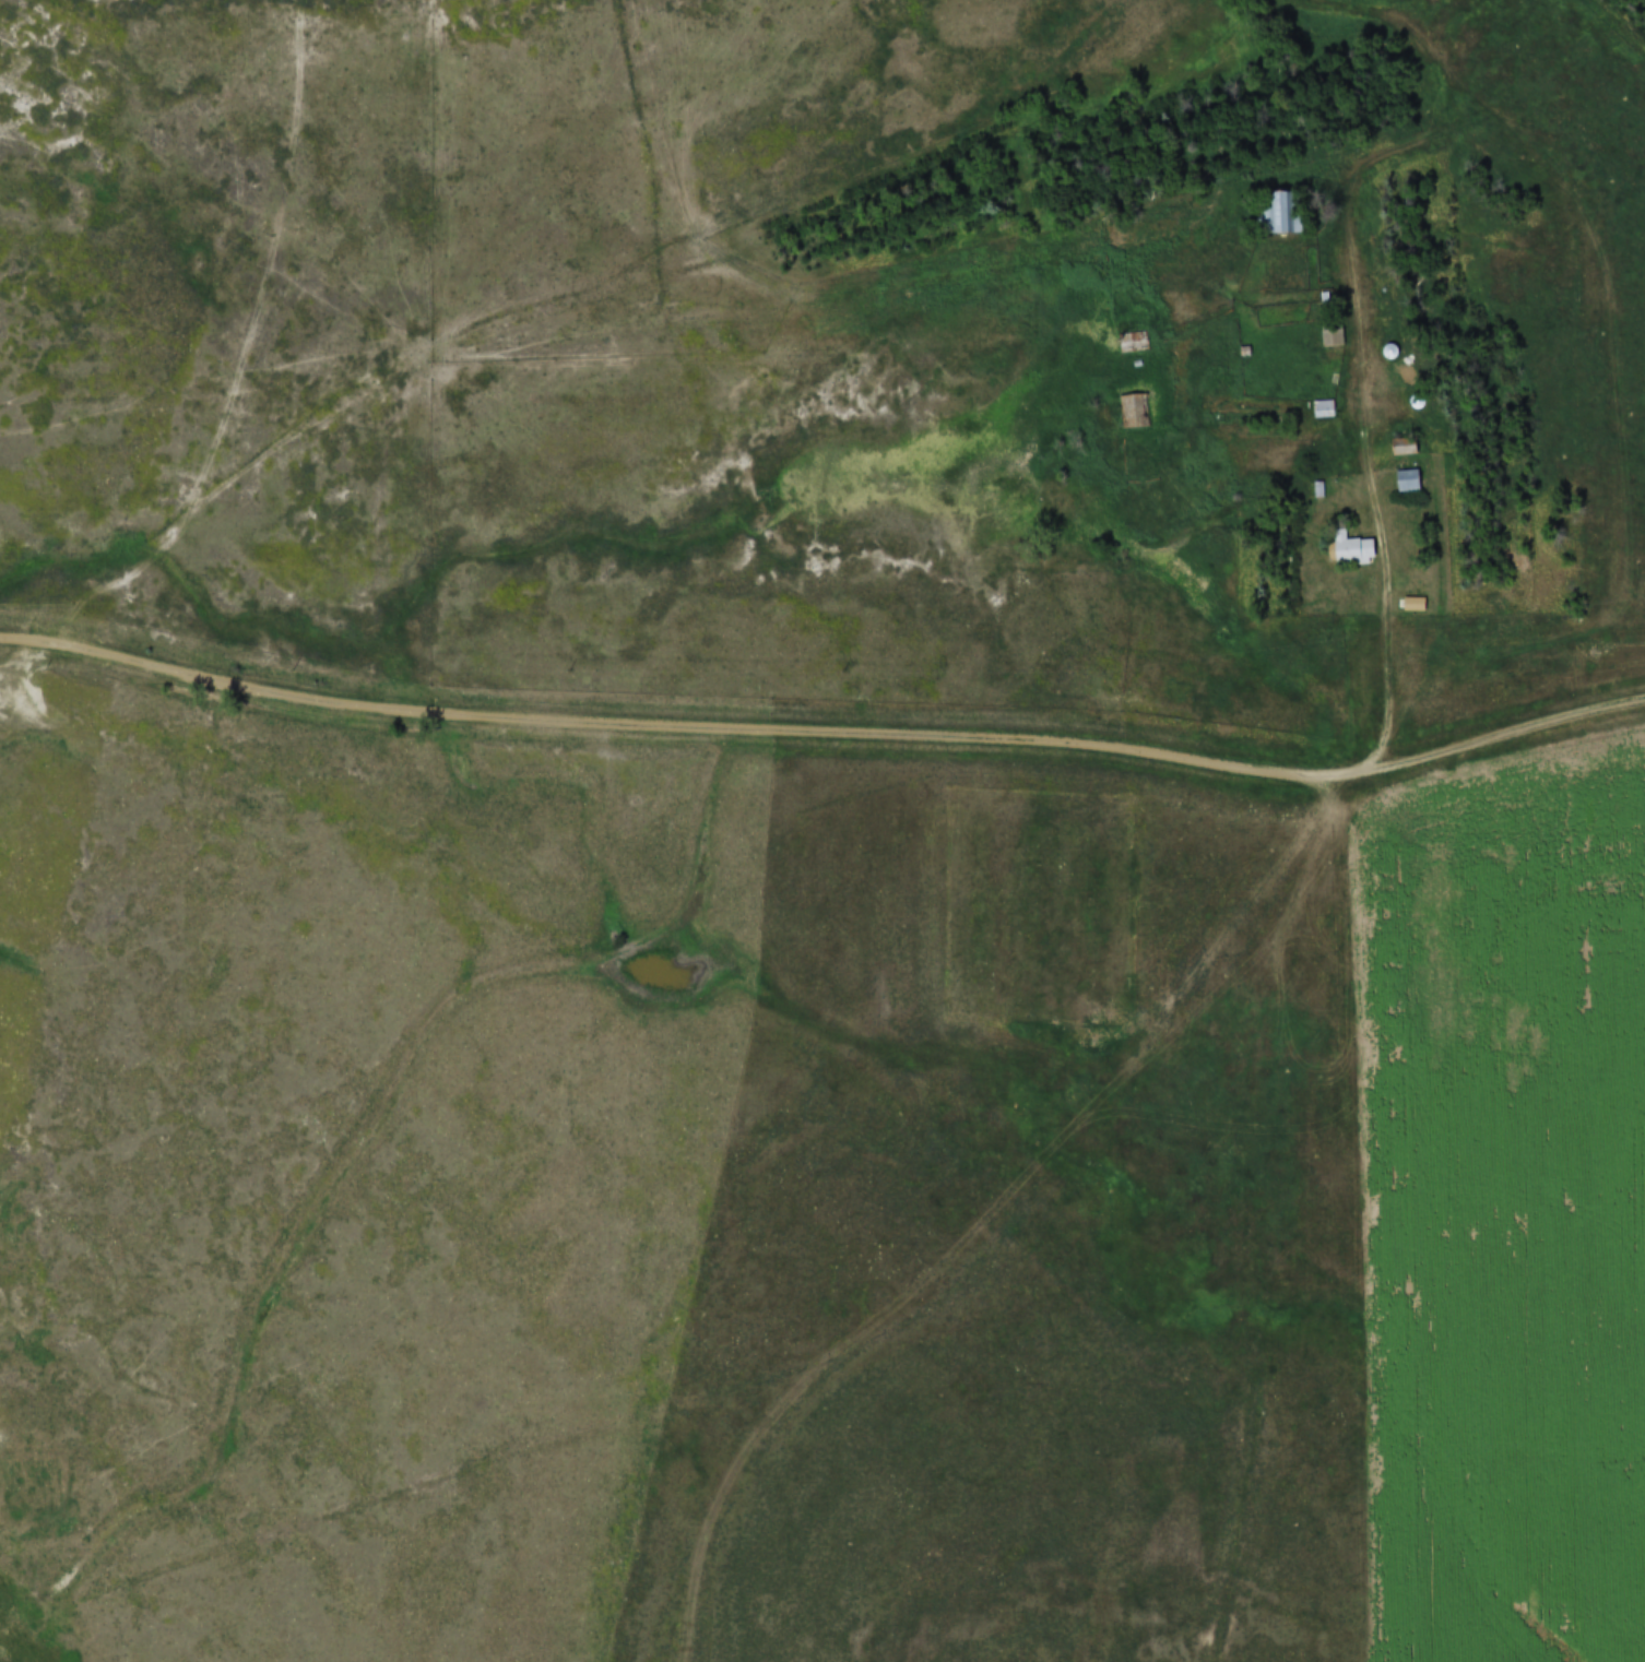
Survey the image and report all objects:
building: (1274, 215)
building: (1327, 337)
building: (1124, 341)
building: (1384, 352)
silo: (1384, 352)
building: (1239, 353)
building: (1400, 376)
silo: (1400, 376)
building: (1411, 403)
silo: (1411, 403)
building: (1316, 411)
building: (1143, 412)
building: (1126, 414)
building: (1397, 448)
building: (1401, 482)
building: (1311, 490)
building: (1344, 549)
building: (1406, 606)
road: (1389, 650)
road: (824, 736)

